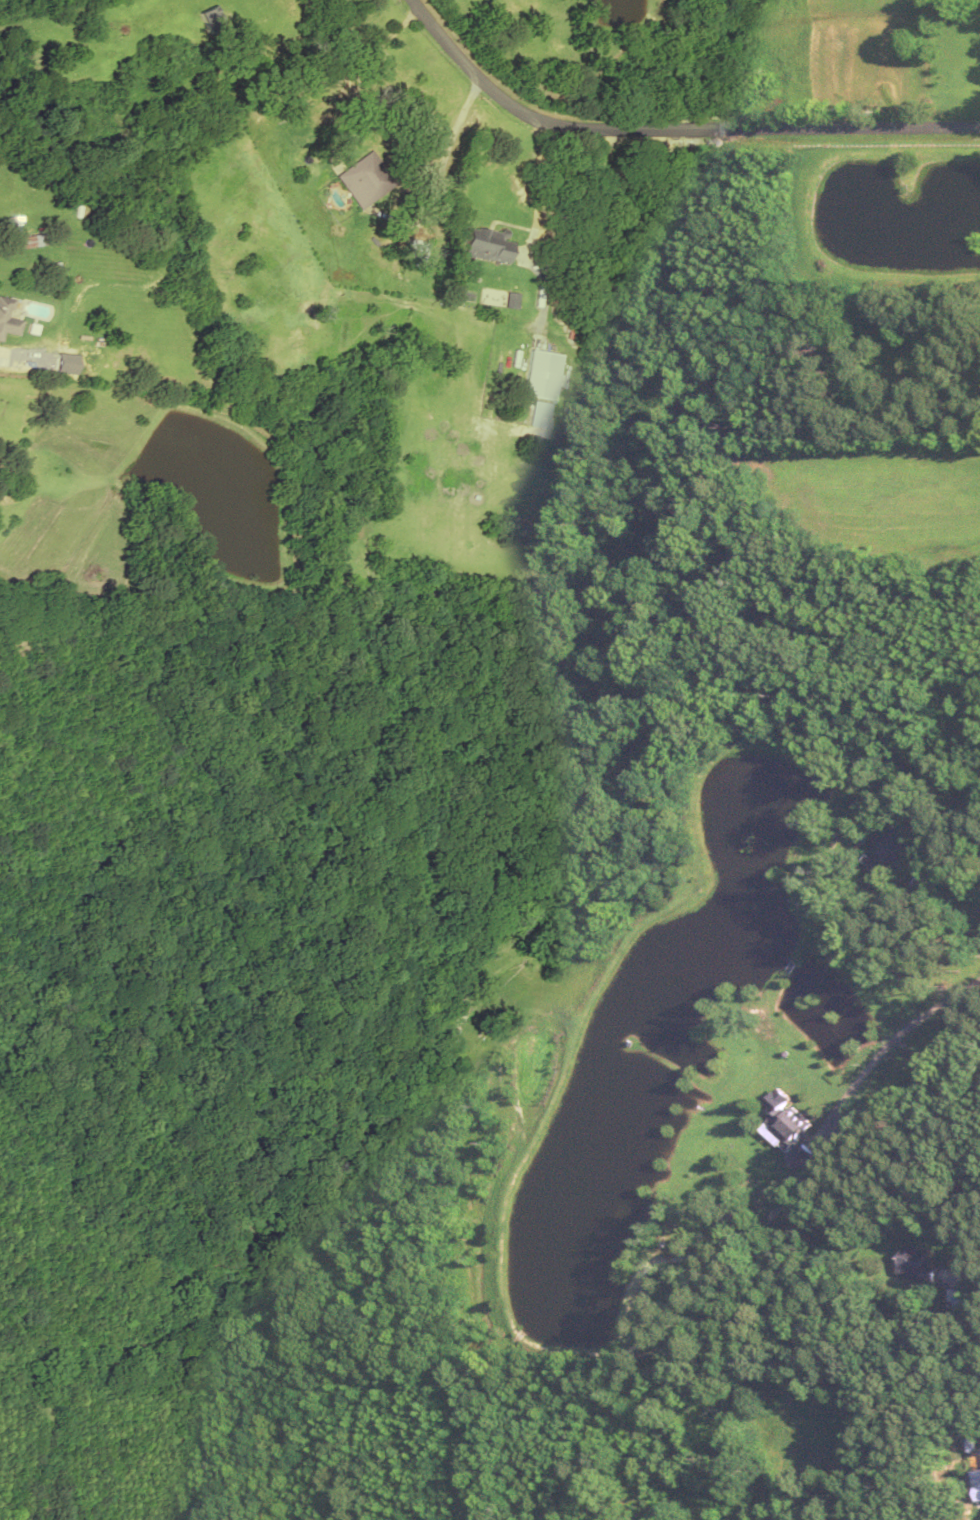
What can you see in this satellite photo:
building: (207, 19)
building: (306, 105)
building: (720, 127)
road: (669, 128)
building: (363, 178)
building: (22, 241)
building: (487, 244)
building: (414, 253)
building: (7, 317)
building: (539, 373)
building: (537, 413)
building: (886, 847)
building: (789, 1137)
building: (919, 1265)
building: (958, 1297)
building: (834, 1517)

